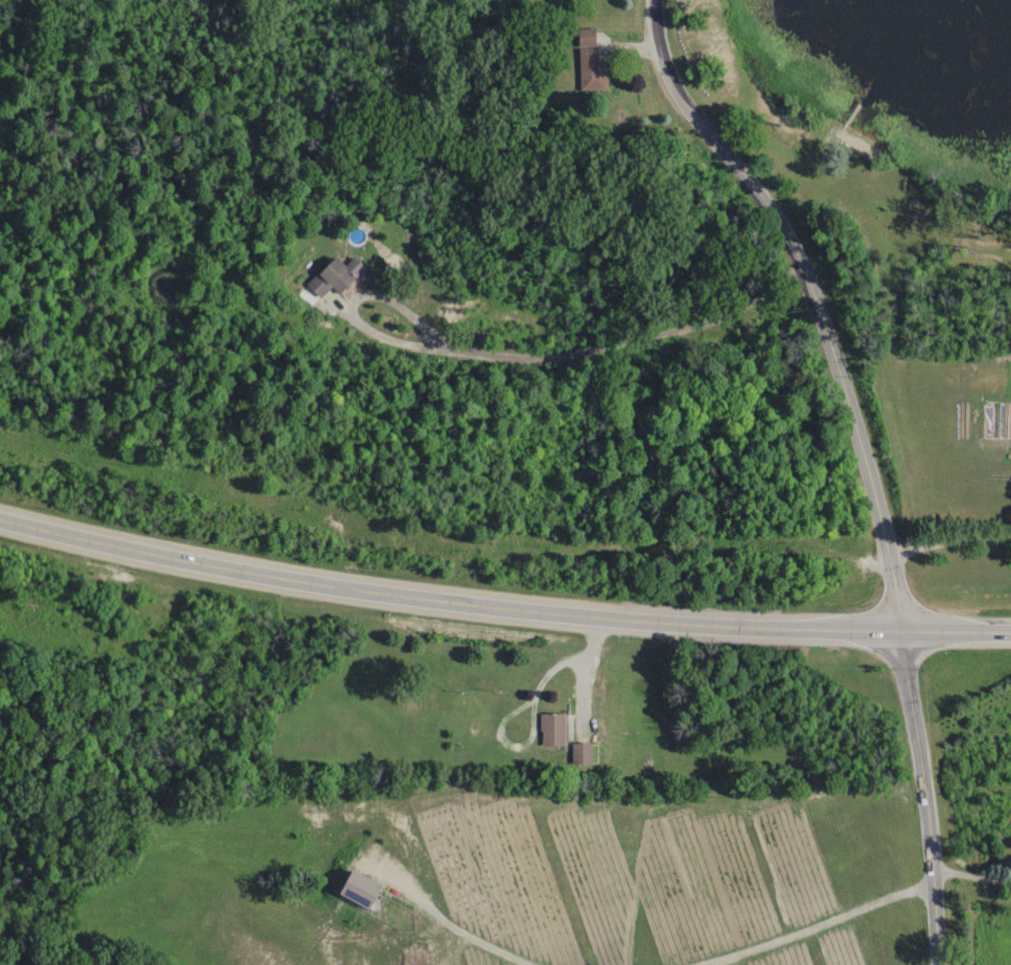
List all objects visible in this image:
building: (589, 61)
building: (334, 276)
road: (584, 351)
road: (863, 458)
road: (948, 543)
road: (501, 605)
road: (586, 673)
building: (551, 729)
building: (580, 754)
road: (970, 873)
road: (812, 925)
road: (456, 926)
building: (414, 956)

